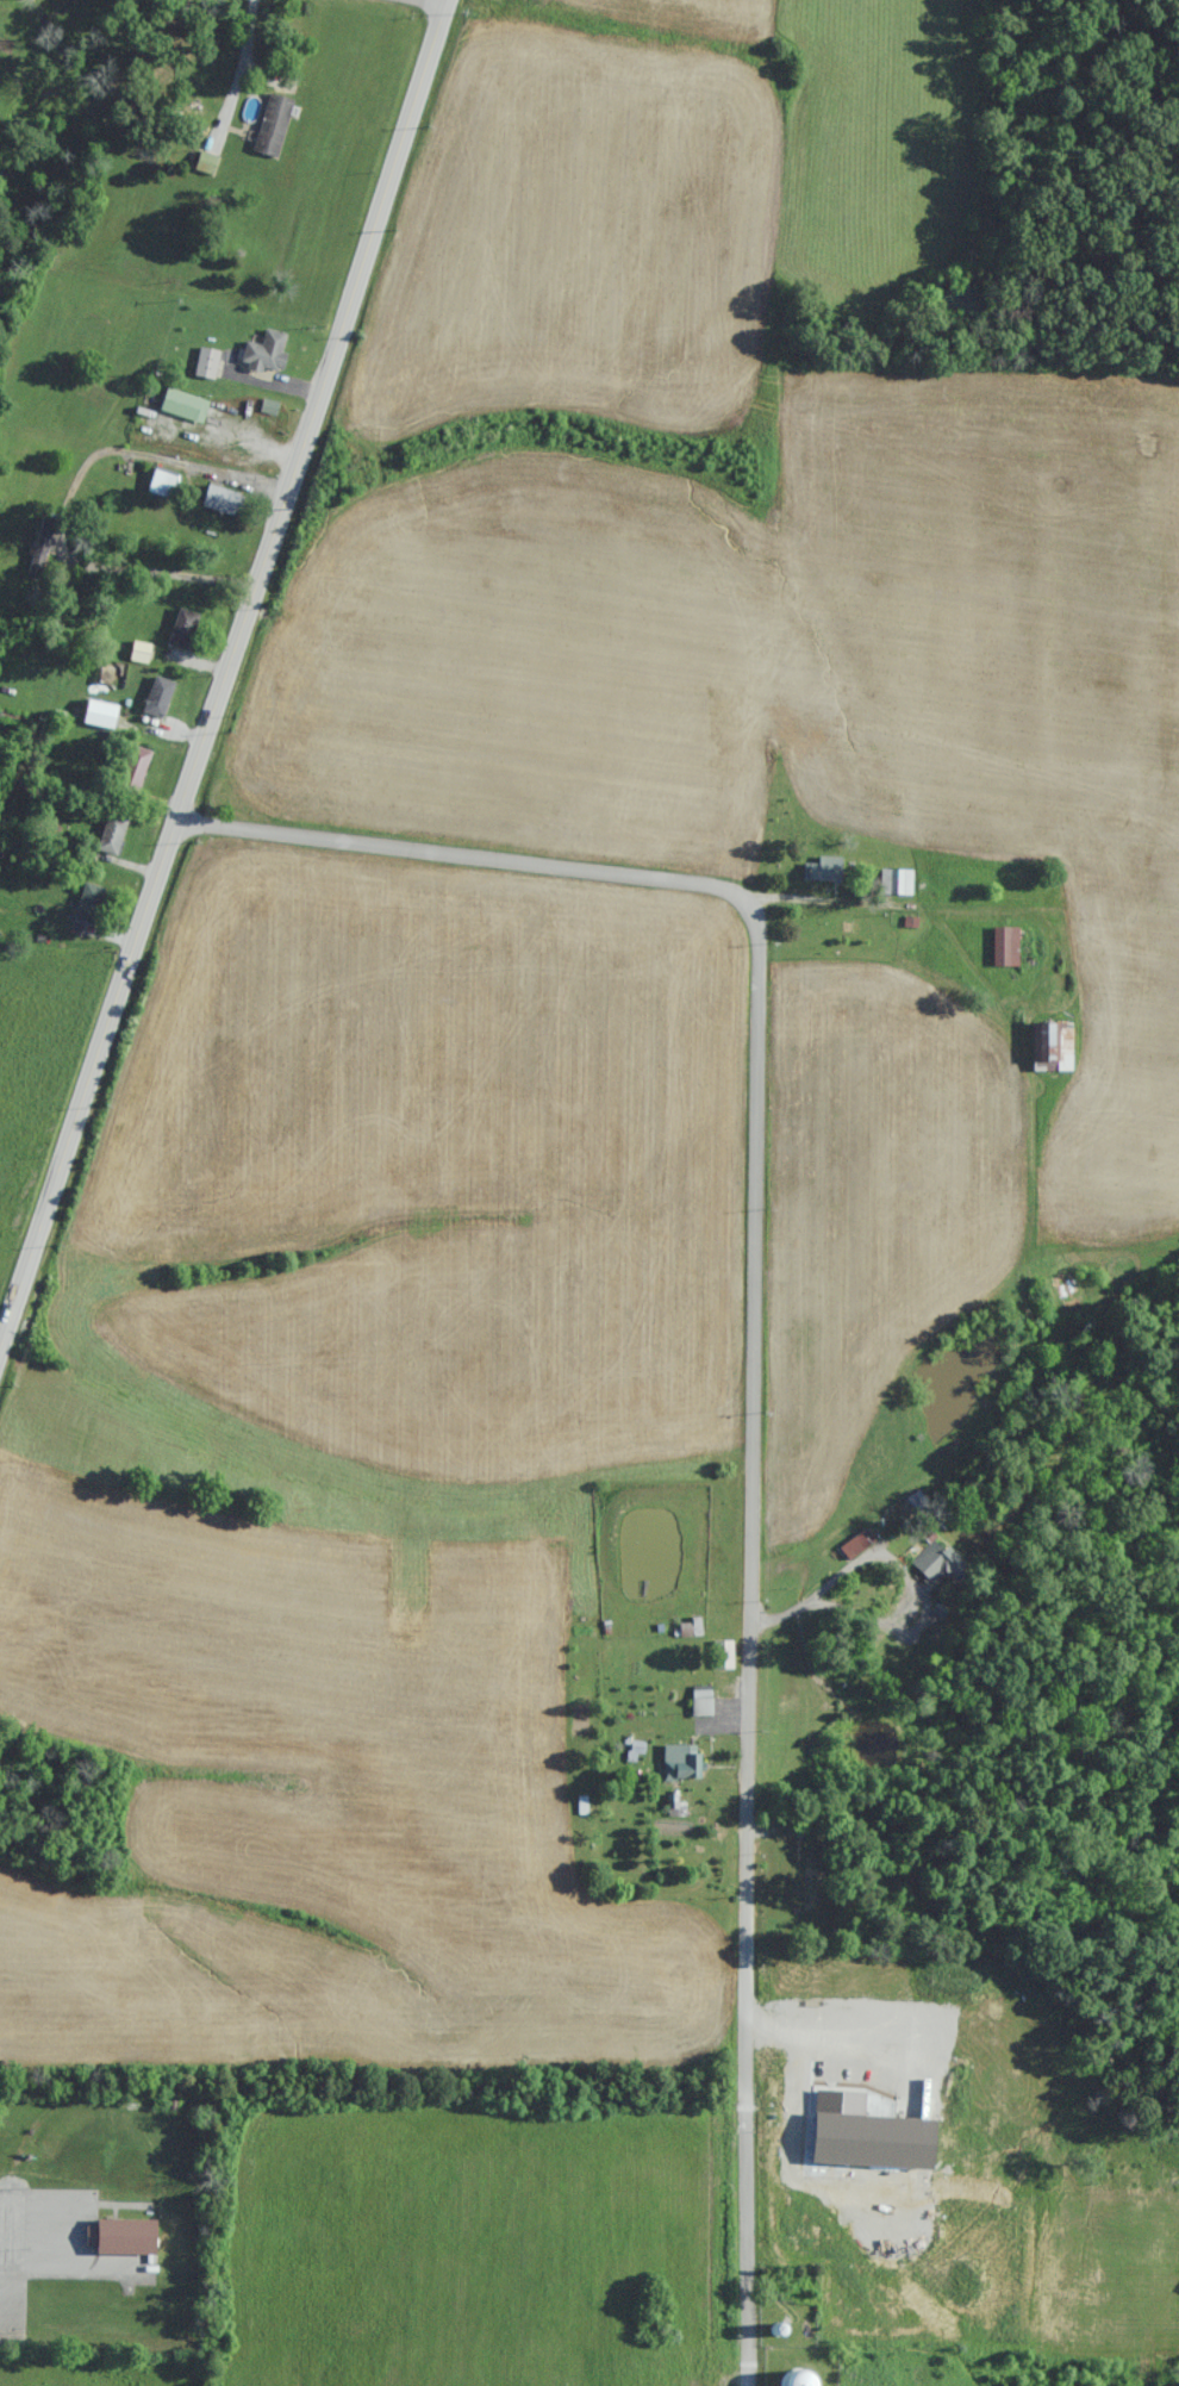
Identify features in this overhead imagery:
road: (431, 2)
building: (272, 124)
building: (205, 163)
building: (264, 354)
building: (205, 365)
building: (183, 407)
building: (160, 486)
building: (219, 502)
building: (36, 561)
building: (182, 630)
road: (225, 673)
building: (157, 698)
building: (99, 716)
building: (131, 773)
building: (111, 836)
building: (823, 871)
building: (894, 883)
building: (87, 904)
building: (1004, 947)
building: (1050, 1046)
road: (754, 1354)
building: (856, 1545)
building: (937, 1566)
building: (688, 1628)
building: (722, 1656)
building: (700, 1701)
building: (680, 1763)
building: (809, 1887)
building: (797, 2379)

